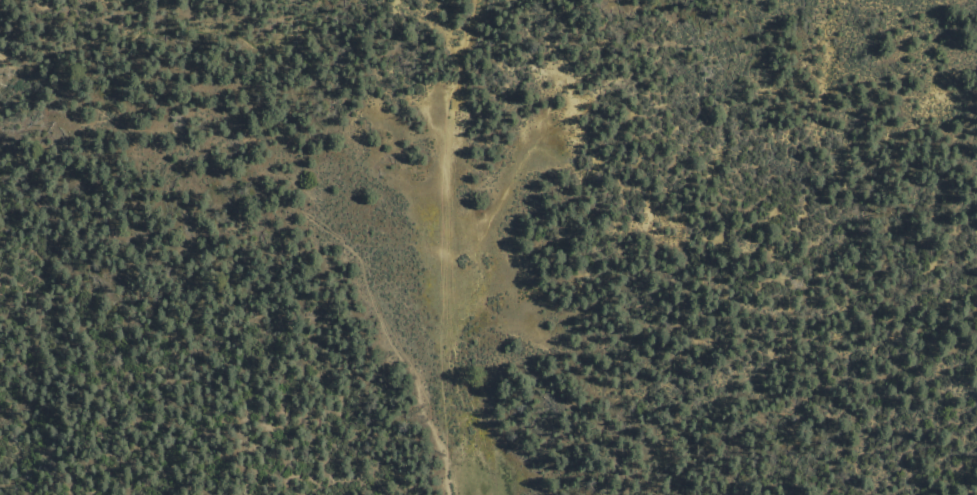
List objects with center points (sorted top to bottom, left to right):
road: (274, 199)
road: (445, 246)

